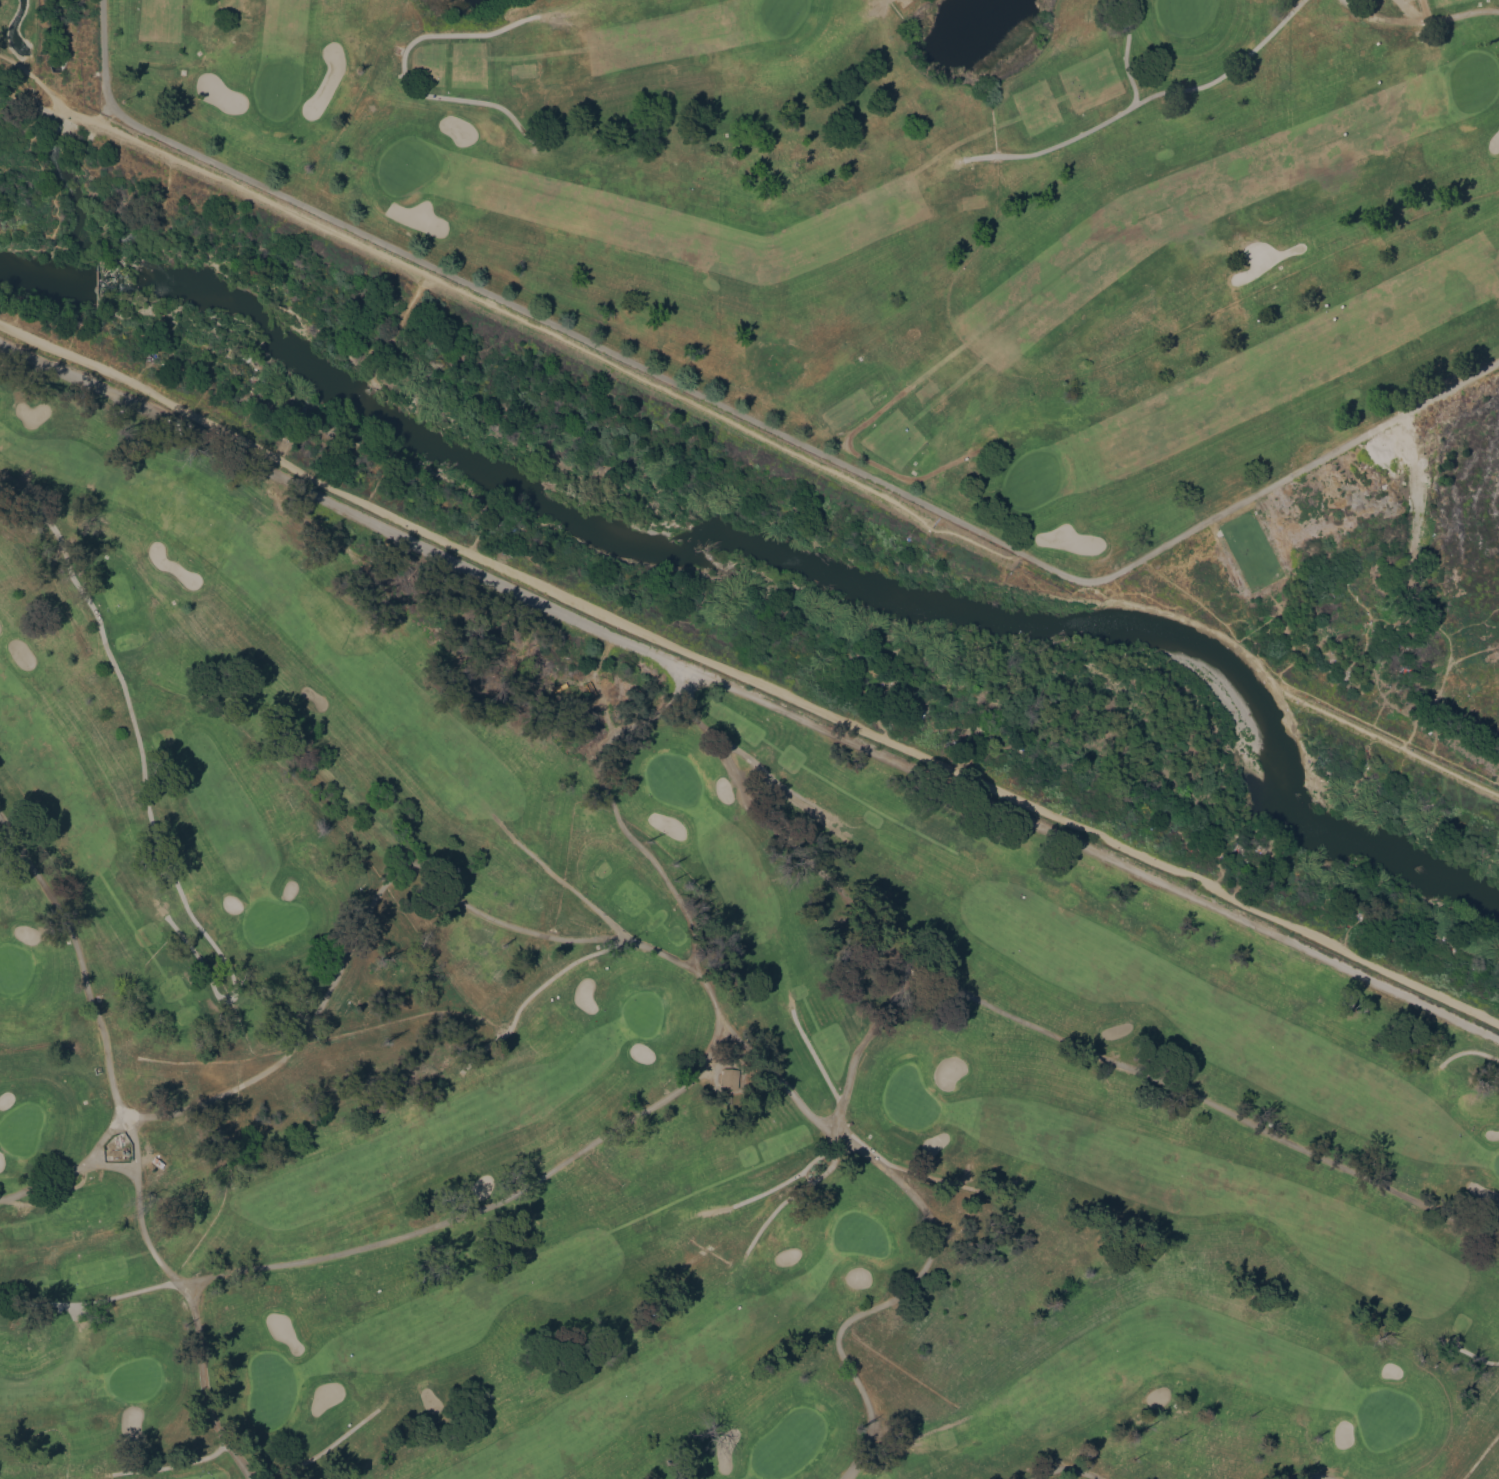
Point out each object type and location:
road: (878, 5)
road: (1404, 10)
road: (1418, 19)
road: (1124, 52)
park: (37, 68)
road: (402, 68)
river: (57, 94)
road: (1142, 98)
river: (87, 208)
park: (919, 213)
road: (508, 303)
road: (507, 317)
road: (1318, 460)
road: (872, 462)
river: (782, 554)
road: (1069, 577)
road: (1226, 620)
road: (746, 679)
road: (748, 692)
park: (749, 739)
road: (1395, 745)
road: (740, 752)
road: (730, 762)
road: (145, 796)
road: (573, 890)
park: (282, 898)
park: (271, 920)
road: (662, 953)
road: (344, 955)
park: (13, 967)
road: (529, 994)
park: (641, 1012)
road: (1468, 1051)
road: (106, 1056)
road: (813, 1056)
road: (1128, 1069)
road: (777, 1077)
building: (727, 1078)
park: (909, 1099)
park: (20, 1128)
building: (117, 1148)
road: (570, 1158)
road: (65, 1171)
road: (919, 1172)
road: (784, 1181)
park: (928, 1183)
road: (59, 1190)
road: (793, 1192)
road: (890, 1300)
road: (89, 1303)
road: (1475, 1357)
park: (134, 1378)
park: (1384, 1417)
park: (787, 1443)
road: (321, 1450)
road: (171, 1464)
road: (1063, 1468)
road: (1314, 1476)

